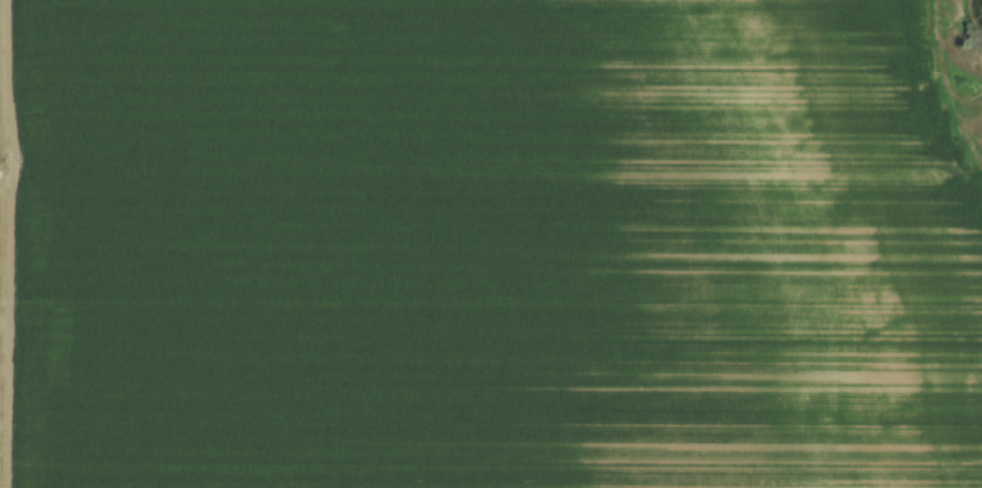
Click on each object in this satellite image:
crop: (484, 246)

